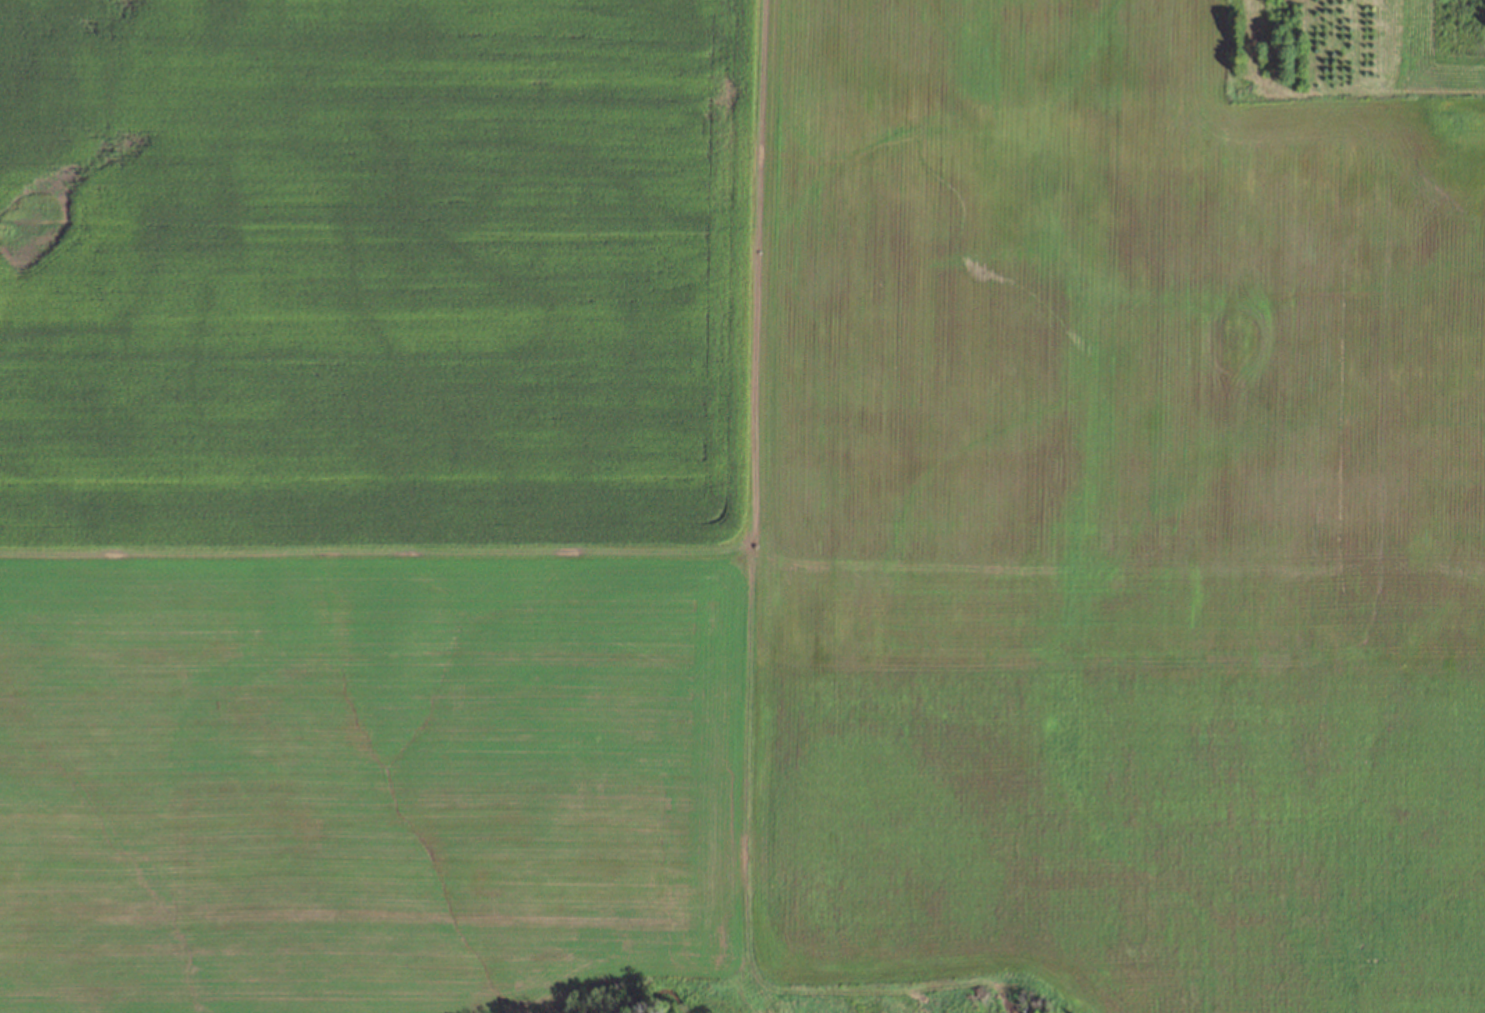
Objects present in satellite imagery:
crop: (742, 504)

